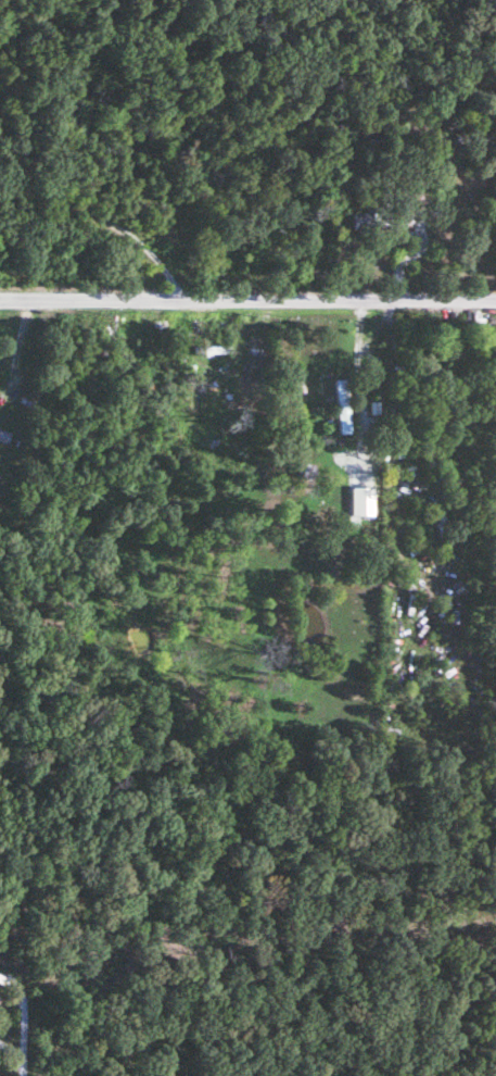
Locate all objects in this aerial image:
building: (358, 221)
road: (97, 223)
road: (247, 302)
building: (207, 352)
building: (340, 408)
building: (1, 437)
road: (16, 1009)
road: (9, 1047)
road: (16, 1063)

